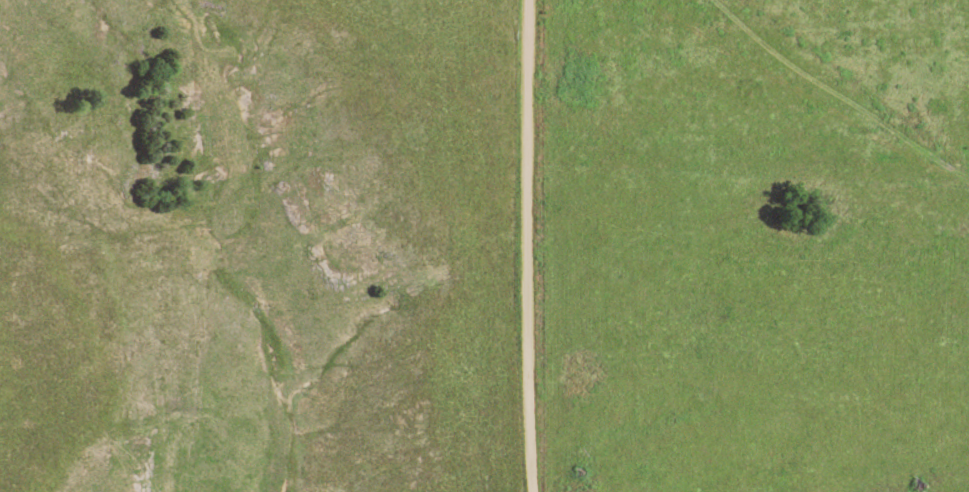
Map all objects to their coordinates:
road: (527, 246)

